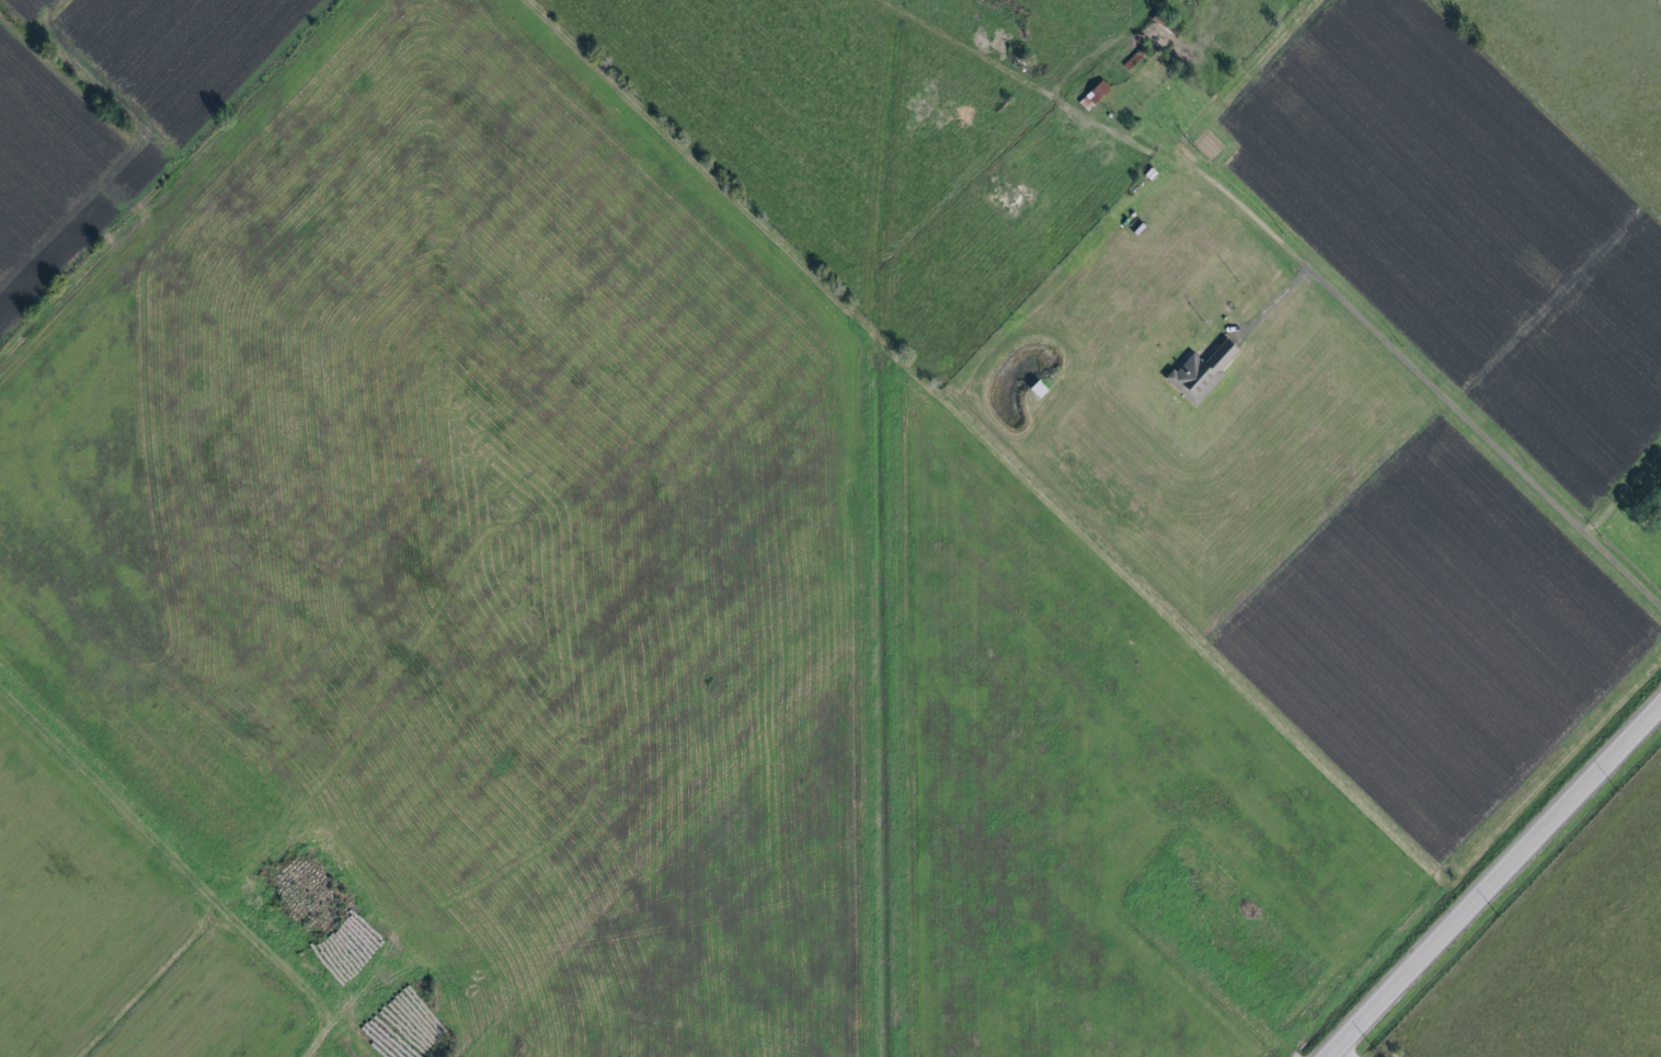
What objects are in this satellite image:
building: (1092, 95)
road: (1303, 261)
road: (1275, 303)
building: (1199, 374)
building: (1035, 389)
road: (1486, 875)
road: (328, 1034)
road: (1338, 1050)

